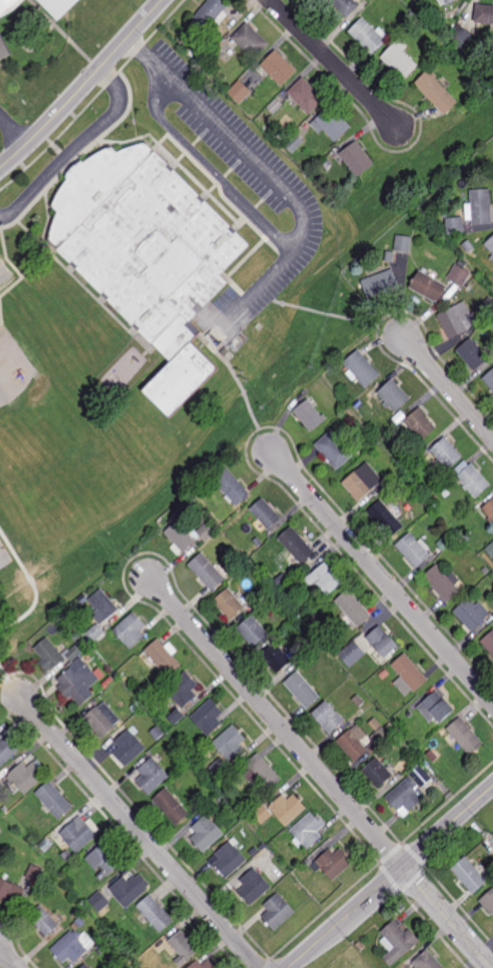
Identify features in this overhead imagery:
building: (448, 1)
building: (8, 6)
building: (59, 6)
building: (345, 6)
building: (209, 13)
building: (483, 14)
building: (410, 15)
building: (443, 28)
building: (367, 35)
building: (461, 36)
building: (251, 40)
building: (4, 48)
building: (197, 59)
building: (400, 61)
building: (206, 64)
road: (334, 64)
building: (279, 67)
road: (82, 86)
building: (240, 91)
building: (436, 92)
building: (306, 95)
building: (275, 105)
building: (331, 123)
road: (14, 130)
building: (295, 143)
road: (75, 147)
building: (357, 158)
building: (327, 163)
road: (209, 167)
building: (492, 168)
road: (267, 173)
building: (480, 207)
building: (454, 226)
building: (145, 242)
building: (403, 244)
building: (490, 244)
building: (468, 246)
building: (389, 256)
building: (492, 258)
building: (461, 264)
building: (459, 275)
building: (380, 284)
building: (427, 287)
building: (486, 307)
road: (329, 313)
building: (456, 320)
building: (472, 354)
building: (362, 367)
road: (235, 377)
building: (180, 378)
building: (489, 378)
road: (448, 385)
building: (394, 394)
park: (214, 411)
building: (309, 414)
building: (420, 423)
building: (334, 449)
building: (446, 452)
building: (471, 478)
building: (362, 481)
building: (231, 486)
building: (441, 487)
building: (414, 496)
building: (435, 499)
building: (489, 509)
building: (267, 515)
building: (385, 517)
building: (205, 531)
building: (180, 537)
building: (445, 541)
building: (296, 547)
building: (490, 549)
building: (413, 550)
building: (207, 571)
road: (381, 576)
building: (300, 578)
building: (324, 578)
building: (442, 582)
road: (33, 583)
building: (279, 586)
building: (483, 586)
building: (265, 589)
building: (255, 598)
building: (104, 603)
building: (229, 603)
building: (353, 608)
building: (471, 613)
building: (130, 630)
building: (252, 631)
building: (95, 632)
building: (166, 636)
building: (383, 641)
building: (488, 641)
building: (73, 653)
building: (90, 653)
building: (352, 653)
building: (48, 654)
building: (276, 657)
building: (162, 658)
building: (130, 662)
building: (384, 674)
building: (408, 675)
building: (78, 682)
building: (163, 682)
road: (9, 683)
building: (182, 689)
building: (302, 690)
building: (358, 700)
building: (436, 708)
building: (407, 713)
building: (176, 717)
building: (207, 717)
building: (329, 717)
building: (101, 719)
building: (413, 719)
road: (275, 721)
building: (442, 731)
building: (157, 733)
building: (465, 736)
building: (398, 739)
building: (379, 740)
building: (354, 742)
building: (230, 743)
building: (128, 747)
building: (7, 750)
building: (434, 755)
building: (182, 761)
building: (220, 768)
building: (264, 771)
building: (419, 771)
building: (378, 773)
building: (152, 775)
building: (26, 777)
building: (1, 785)
building: (260, 795)
building: (405, 798)
building: (54, 800)
building: (215, 804)
building: (170, 806)
building: (5, 809)
building: (288, 809)
building: (262, 813)
building: (309, 830)
road: (141, 831)
building: (206, 833)
building: (79, 834)
park: (7, 840)
building: (46, 845)
building: (253, 852)
building: (229, 859)
building: (104, 860)
building: (309, 862)
building: (333, 863)
building: (33, 873)
building: (101, 875)
building: (469, 876)
road: (391, 878)
building: (254, 886)
building: (129, 890)
building: (10, 892)
building: (488, 901)
building: (100, 902)
building: (277, 912)
building: (155, 913)
road: (447, 918)
building: (103, 919)
building: (43, 920)
building: (80, 922)
building: (397, 939)
building: (69, 948)
building: (183, 948)
road: (9, 957)
building: (427, 961)
building: (197, 963)
building: (85, 966)

